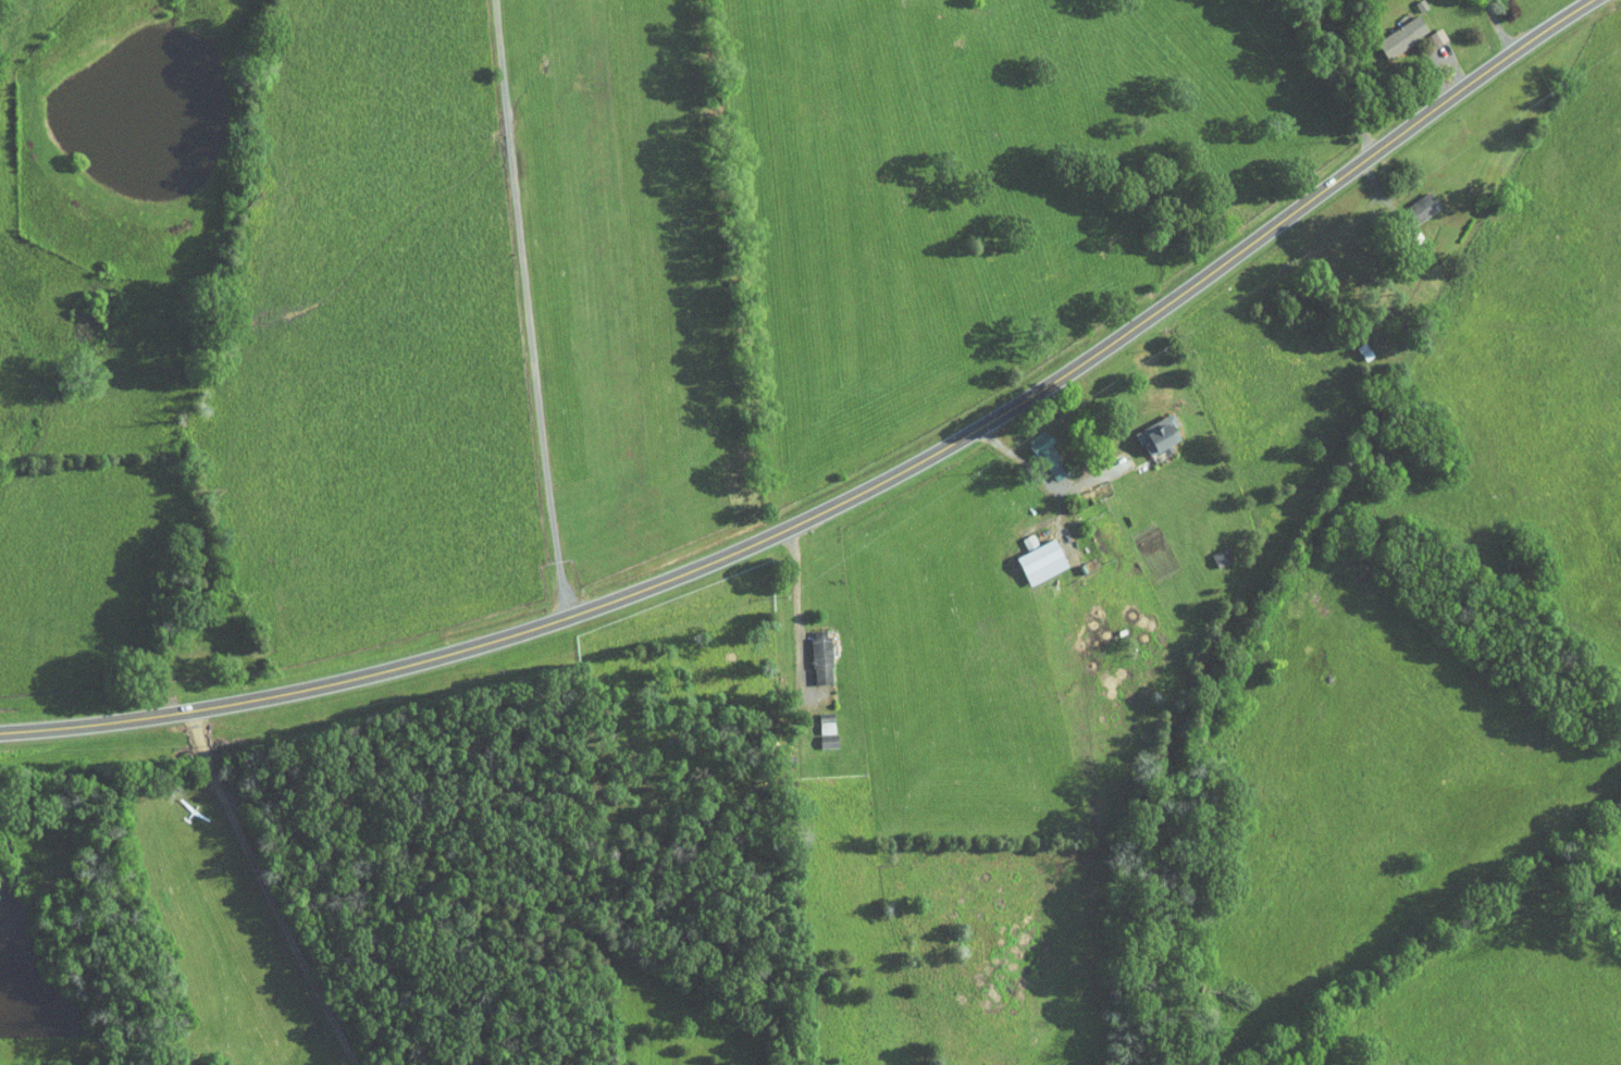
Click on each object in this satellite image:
road: (1499, 27)
building: (1394, 28)
road: (1428, 66)
road: (1347, 102)
building: (1412, 199)
airport runway: (609, 261)
airport: (632, 272)
road: (529, 309)
building: (1150, 428)
road: (1075, 443)
road: (1007, 447)
building: (1038, 447)
road: (855, 496)
building: (1019, 534)
road: (833, 554)
building: (1032, 554)
road: (796, 602)
building: (812, 651)
road: (252, 888)

